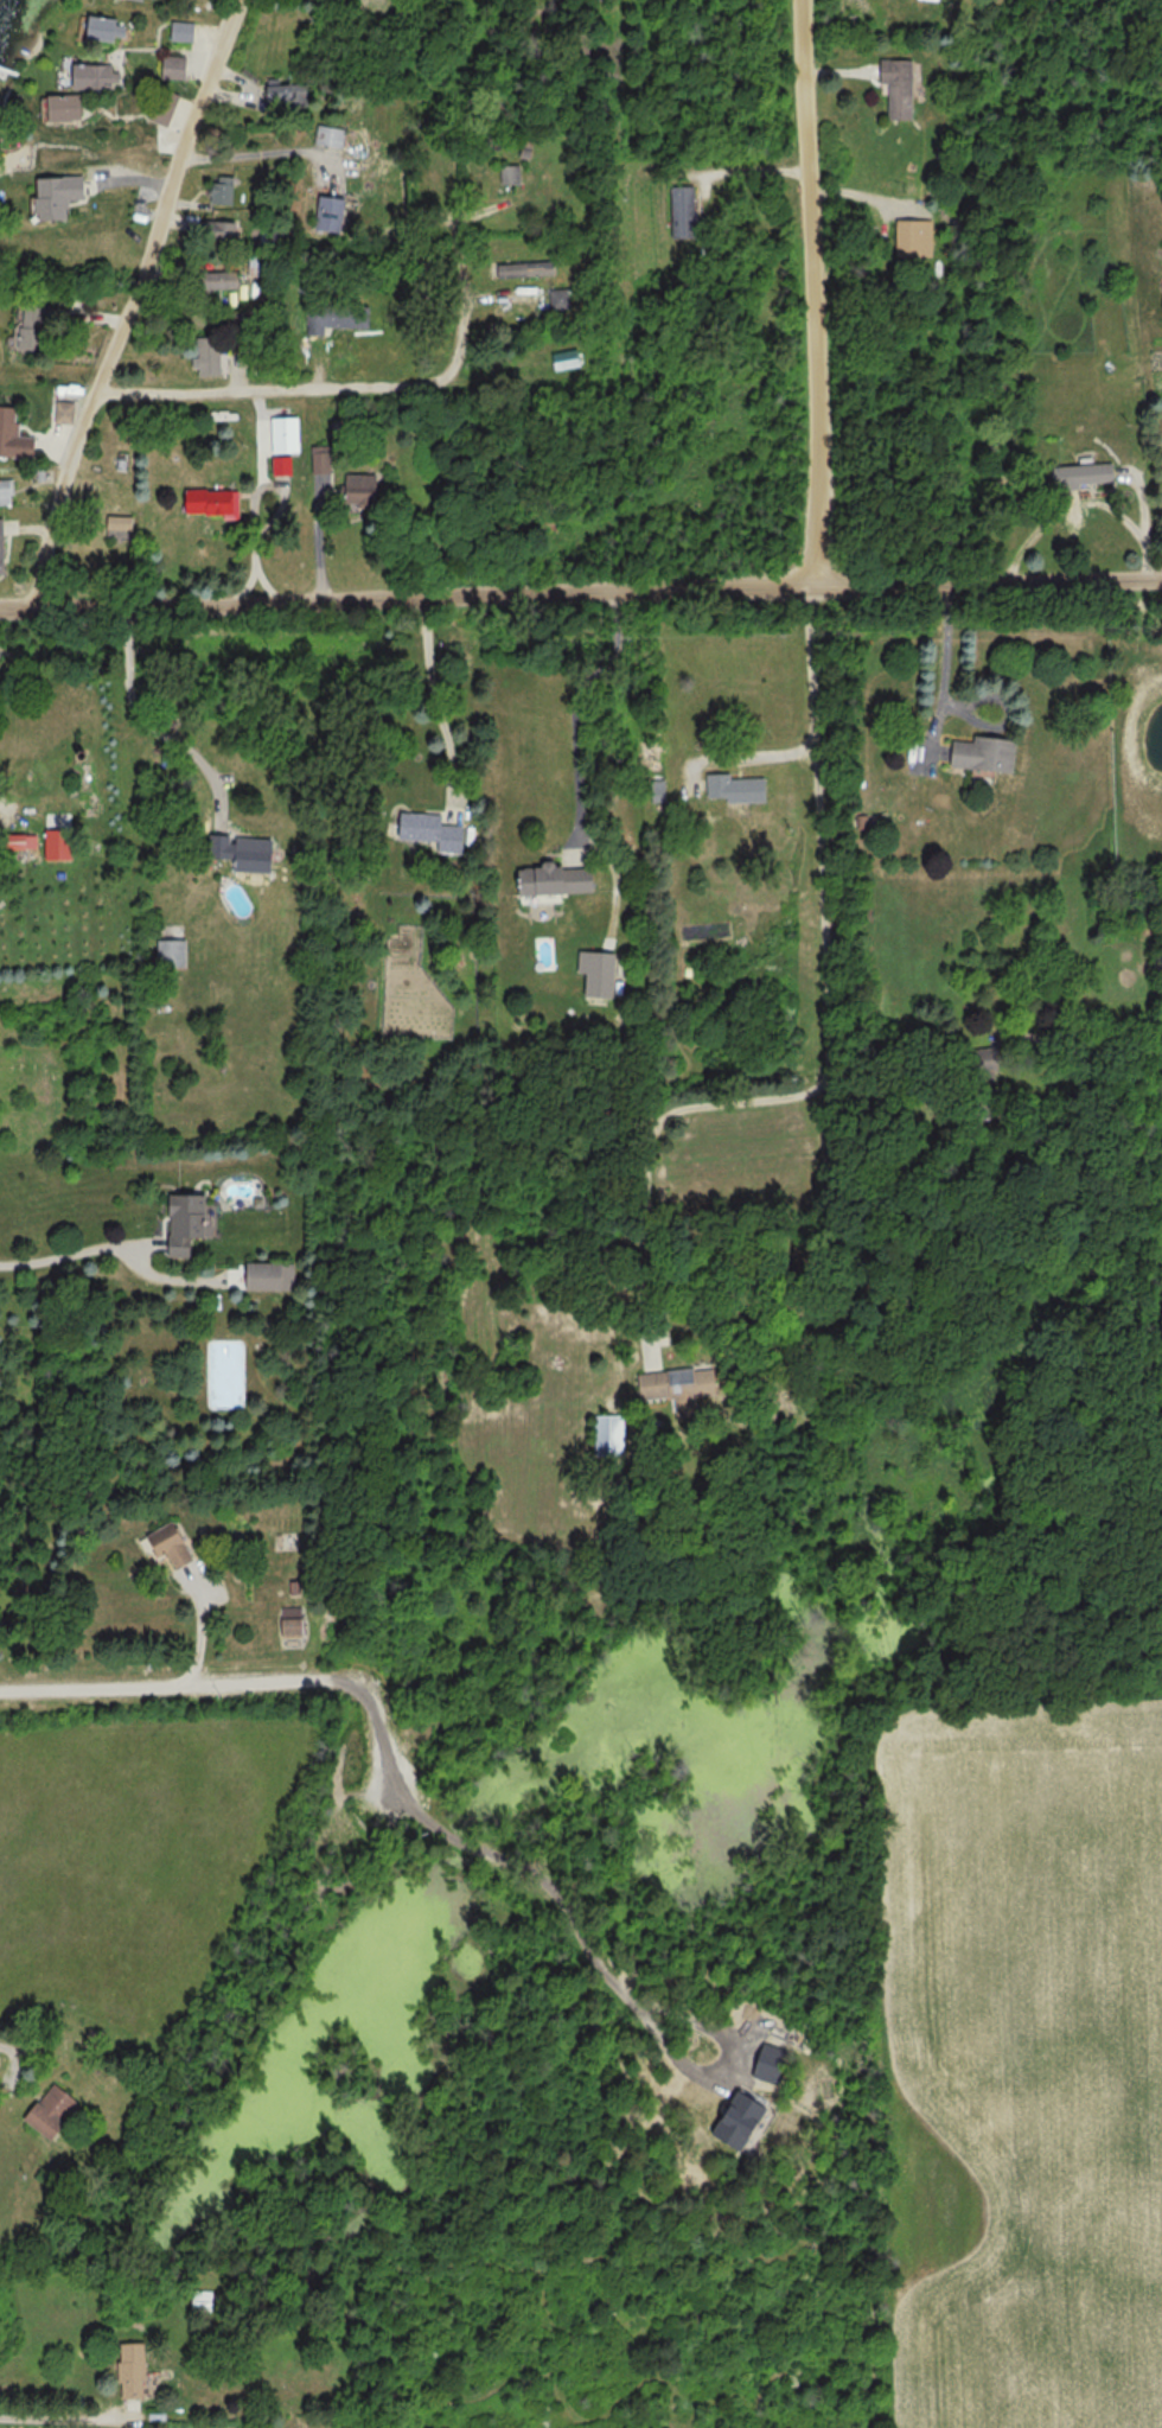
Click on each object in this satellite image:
building: (104, 27)
building: (185, 30)
building: (178, 65)
building: (96, 75)
building: (904, 85)
building: (289, 89)
building: (166, 104)
building: (65, 107)
building: (332, 134)
road: (264, 149)
building: (46, 151)
road: (749, 168)
building: (512, 173)
building: (225, 189)
building: (59, 195)
building: (687, 210)
building: (336, 211)
building: (225, 229)
building: (931, 237)
building: (529, 268)
building: (225, 279)
road: (818, 280)
building: (562, 298)
road: (141, 304)
road: (464, 313)
building: (338, 317)
building: (36, 325)
building: (212, 355)
building: (1116, 370)
road: (267, 389)
building: (66, 406)
building: (15, 434)
road: (257, 438)
building: (1080, 474)
building: (6, 489)
building: (366, 489)
building: (213, 501)
road: (251, 504)
building: (4, 547)
road: (984, 580)
road: (263, 585)
road: (416, 597)
road: (945, 646)
road: (433, 696)
road: (574, 703)
road: (143, 725)
building: (990, 753)
road: (747, 754)
building: (740, 788)
road: (1, 805)
building: (435, 830)
building: (249, 852)
building: (561, 879)
building: (172, 952)
building: (601, 973)
road: (1092, 1039)
road: (829, 1044)
building: (191, 1224)
road: (65, 1257)
building: (270, 1275)
building: (681, 1382)
building: (612, 1434)
building: (178, 1544)
building: (295, 1621)
road: (235, 1681)
road: (564, 1917)
building: (49, 2110)
building: (200, 2301)
building: (129, 2371)
road: (60, 2420)

